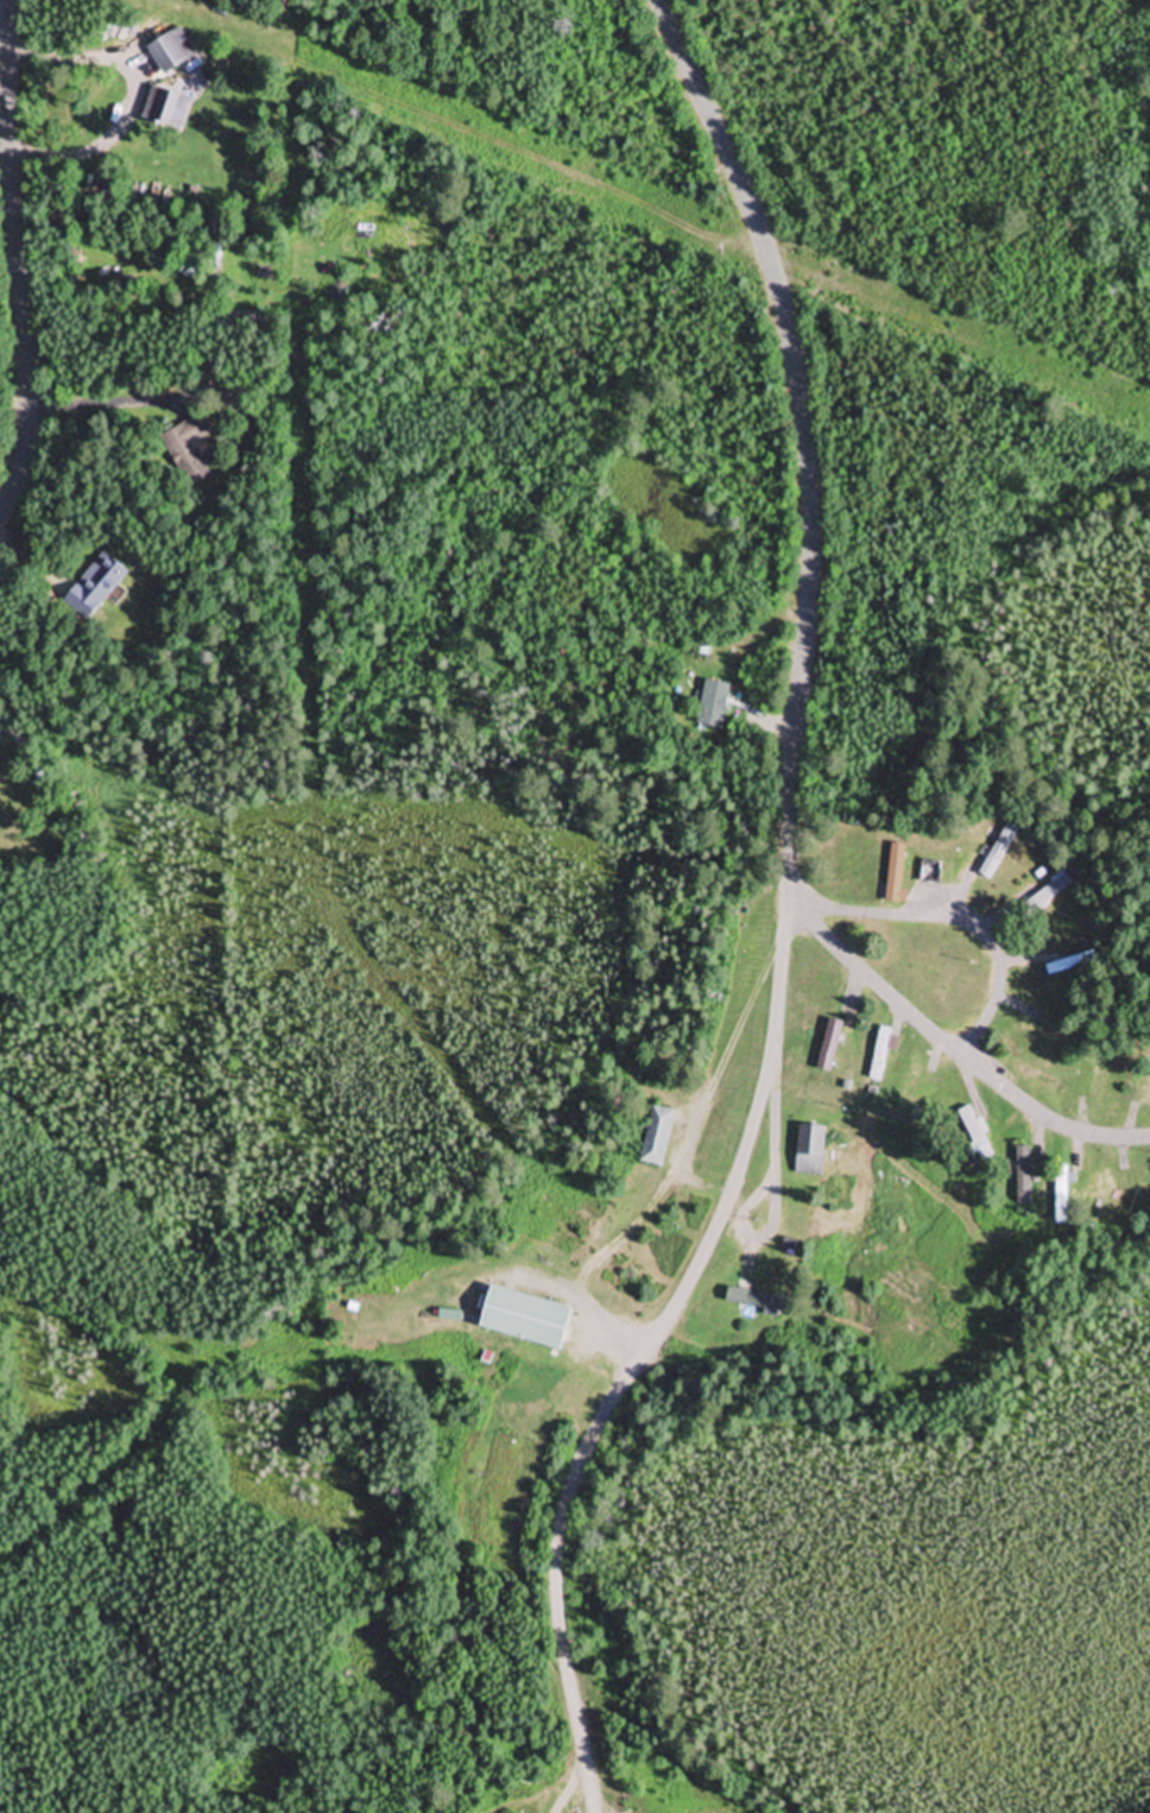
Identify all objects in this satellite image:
building: (169, 53)
building: (166, 109)
road: (15, 266)
building: (204, 366)
building: (235, 399)
building: (189, 450)
building: (95, 587)
building: (998, 852)
building: (930, 873)
building: (896, 874)
building: (1047, 896)
road: (948, 914)
road: (784, 918)
building: (1070, 964)
road: (953, 1046)
building: (879, 1056)
building: (1029, 1072)
building: (911, 1085)
building: (1146, 1098)
building: (975, 1136)
building: (656, 1137)
building: (810, 1151)
building: (1023, 1176)
building: (1061, 1195)
building: (754, 1302)
quarry: (182, 1319)
building: (524, 1320)

